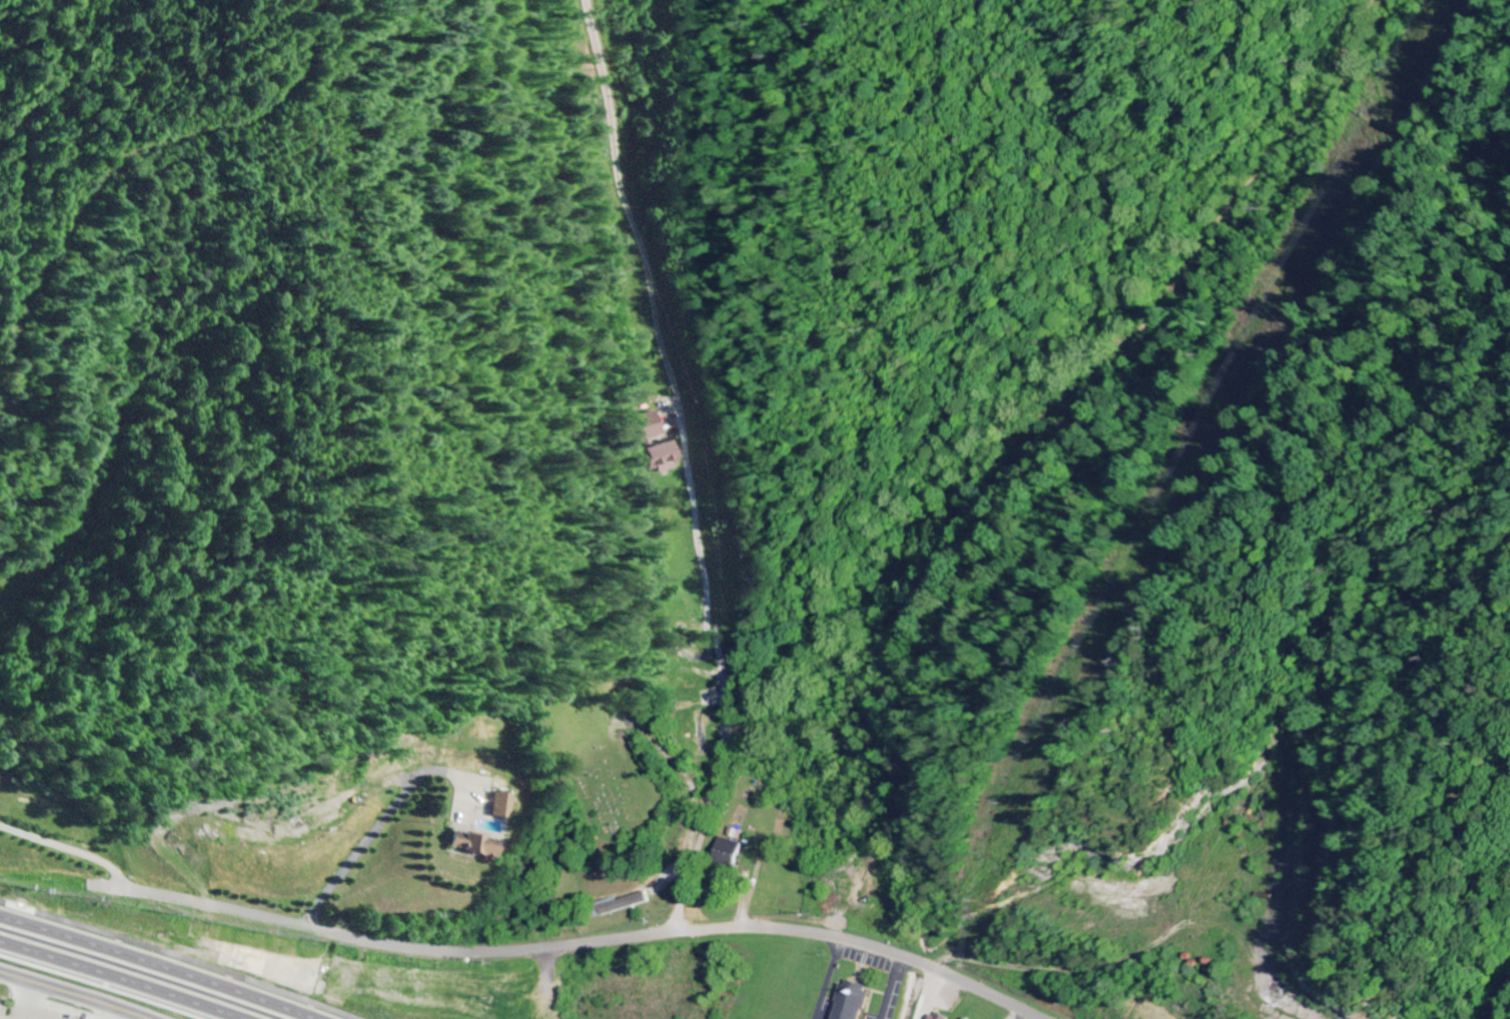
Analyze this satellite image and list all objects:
building: (654, 426)
building: (668, 457)
road: (687, 466)
building: (691, 654)
building: (700, 732)
building: (504, 805)
road: (382, 828)
building: (473, 844)
road: (529, 947)
road: (161, 965)
road: (1045, 976)
road: (119, 978)
road: (70, 995)
building: (850, 1002)
building: (937, 1016)
building: (964, 1018)

